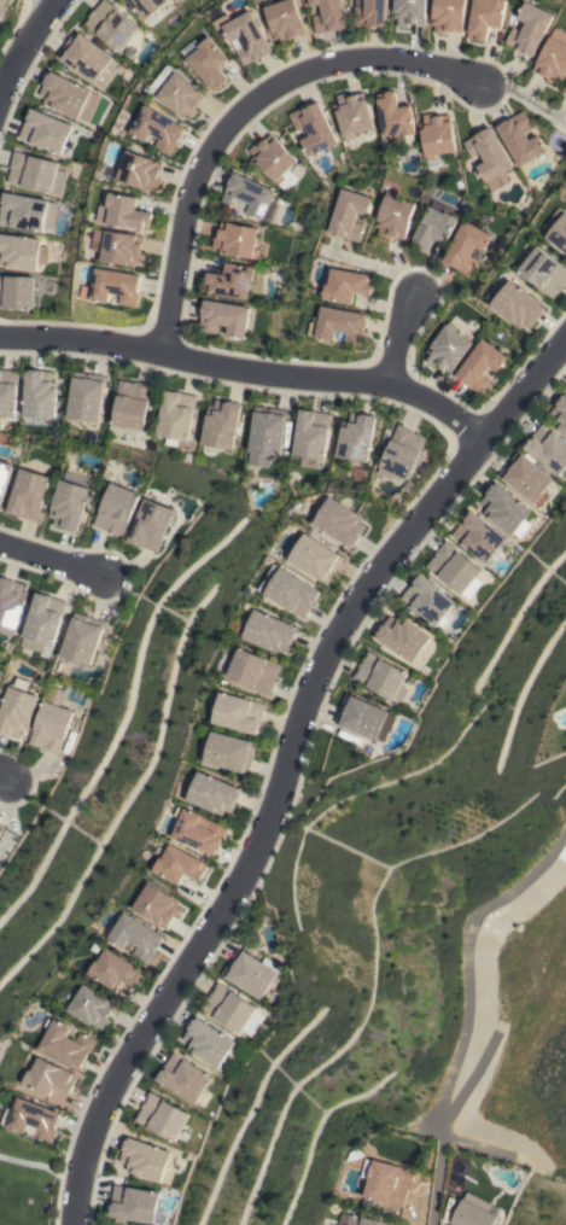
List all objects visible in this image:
road: (57, 1)
building: (180, 1)
building: (146, 6)
building: (2, 7)
building: (369, 12)
building: (408, 12)
building: (447, 14)
building: (328, 16)
building: (484, 17)
building: (284, 19)
building: (111, 24)
building: (529, 29)
building: (246, 37)
road: (24, 47)
building: (87, 58)
building: (206, 60)
building: (552, 60)
building: (565, 89)
building: (175, 92)
building: (68, 95)
road: (235, 111)
building: (352, 113)
building: (395, 117)
building: (313, 127)
building: (157, 129)
building: (43, 130)
building: (436, 138)
building: (519, 138)
building: (488, 156)
building: (273, 161)
building: (138, 170)
building: (34, 173)
building: (250, 196)
building: (27, 211)
building: (123, 211)
building: (349, 214)
building: (393, 216)
building: (432, 228)
building: (558, 231)
building: (234, 239)
building: (121, 247)
building: (466, 247)
building: (21, 251)
building: (543, 272)
building: (229, 280)
building: (346, 285)
building: (115, 286)
building: (16, 291)
building: (517, 305)
building: (223, 317)
building: (338, 325)
road: (396, 331)
building: (447, 348)
building: (479, 366)
road: (246, 368)
building: (7, 391)
building: (39, 393)
building: (86, 396)
building: (132, 404)
building: (560, 413)
building: (175, 415)
building: (221, 424)
building: (266, 434)
building: (356, 436)
building: (310, 437)
building: (548, 448)
building: (401, 453)
building: (4, 476)
building: (526, 477)
building: (28, 494)
building: (68, 504)
building: (115, 508)
building: (502, 508)
building: (340, 521)
building: (148, 525)
building: (478, 536)
building: (315, 556)
road: (52, 562)
building: (454, 568)
building: (290, 590)
building: (428, 600)
building: (10, 605)
building: (42, 622)
building: (270, 631)
building: (402, 636)
building: (81, 638)
building: (253, 670)
building: (379, 675)
building: (17, 707)
building: (240, 712)
building: (360, 716)
building: (49, 727)
building: (384, 728)
building: (229, 751)
road: (290, 768)
road: (1, 777)
building: (214, 793)
building: (0, 824)
building: (0, 827)
building: (199, 830)
building: (180, 864)
building: (158, 904)
building: (136, 935)
building: (115, 969)
building: (250, 972)
building: (91, 1007)
building: (231, 1009)
building: (206, 1042)
building: (68, 1044)
building: (48, 1077)
building: (183, 1078)
building: (161, 1115)
building: (31, 1118)
building: (142, 1157)
road: (30, 1163)
park: (24, 1180)
building: (386, 1182)
building: (133, 1203)
building: (473, 1212)
building: (358, 1220)

